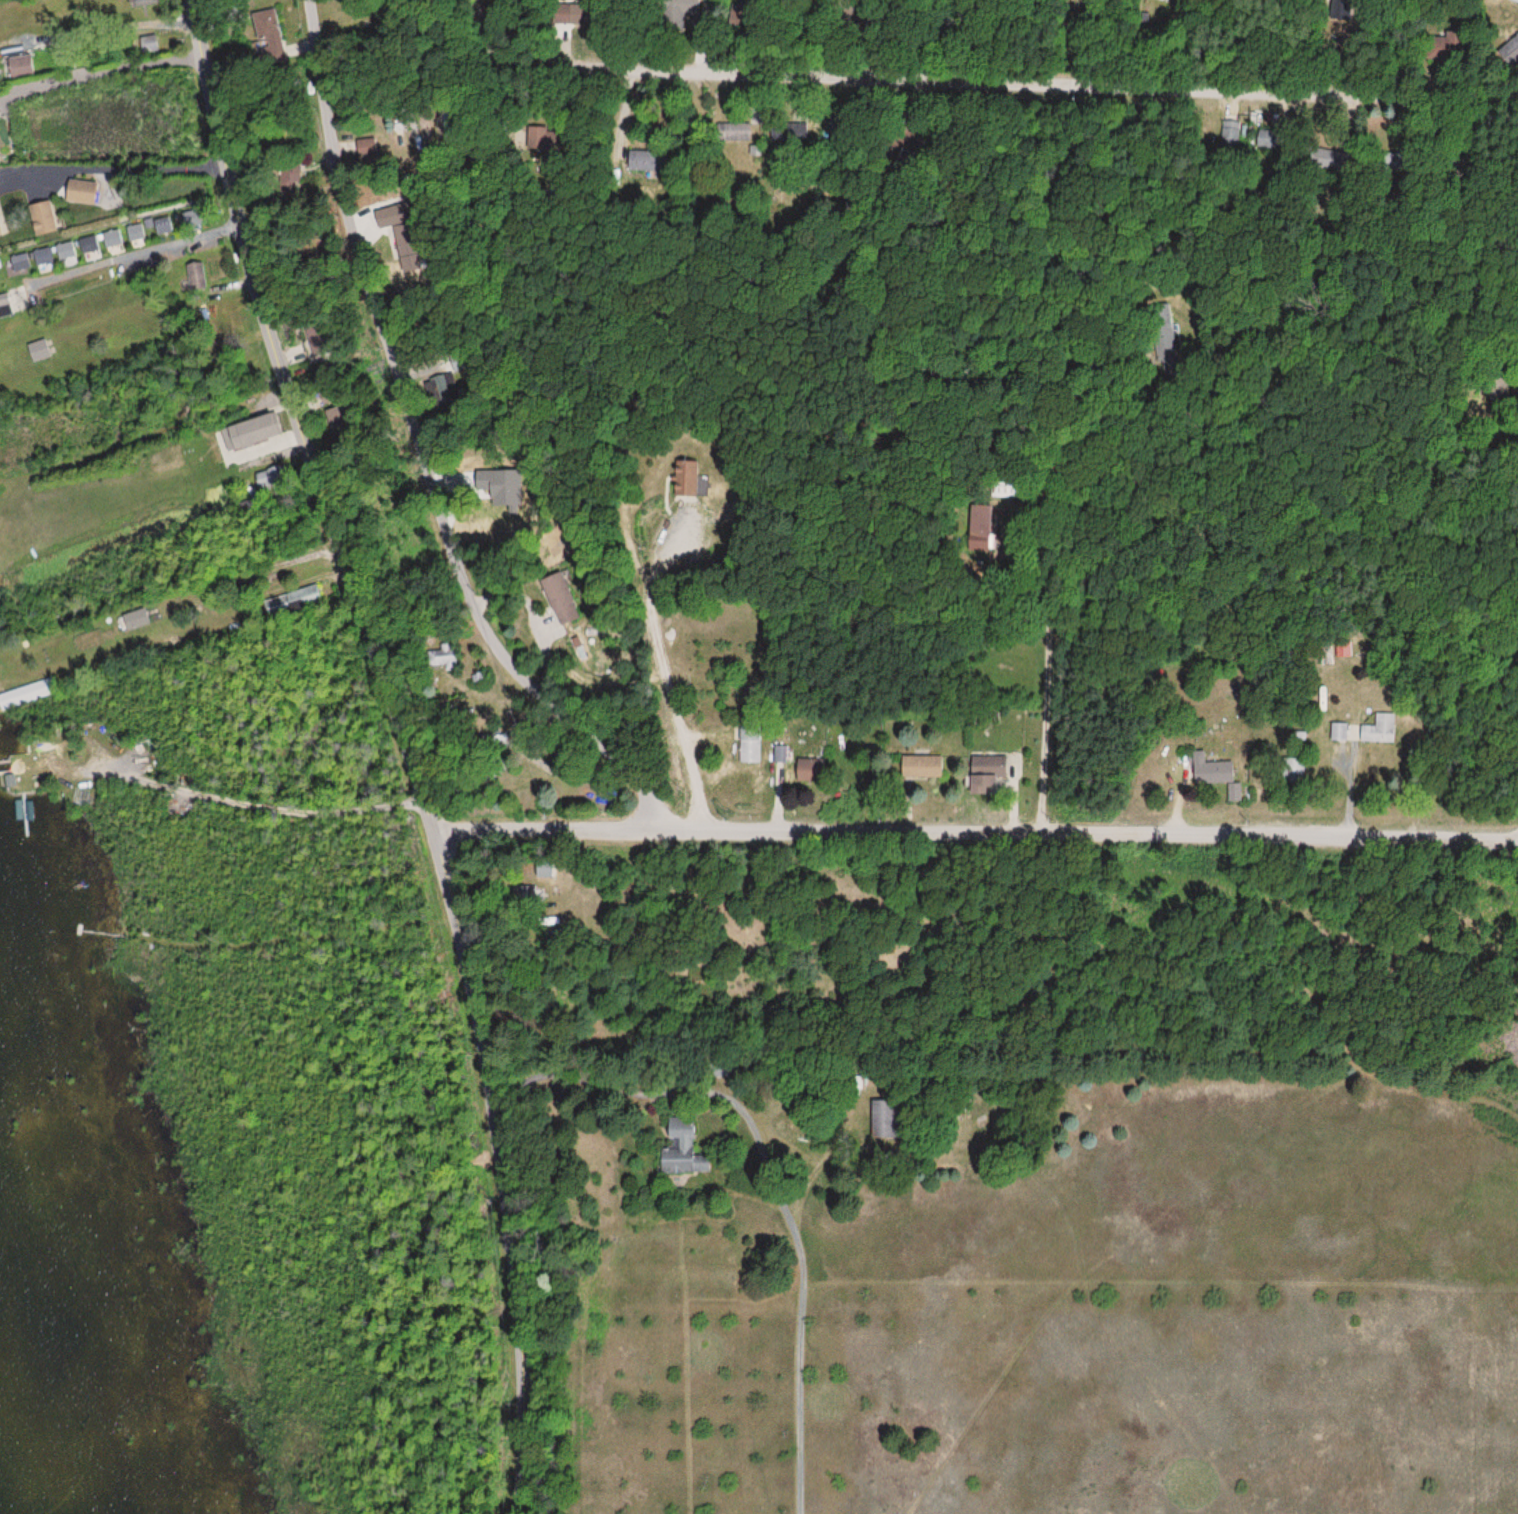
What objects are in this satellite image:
building: (1513, 1)
building: (142, 2)
building: (679, 13)
building: (572, 14)
road: (21, 17)
road: (505, 34)
building: (268, 37)
building: (148, 44)
building: (1509, 51)
building: (19, 66)
road: (1017, 81)
building: (734, 131)
road: (128, 143)
building: (1329, 158)
building: (81, 192)
building: (41, 217)
building: (162, 225)
building: (136, 232)
building: (51, 252)
road: (158, 257)
road: (223, 273)
building: (196, 275)
road: (1314, 280)
road: (218, 340)
building: (39, 349)
road: (233, 352)
road: (426, 442)
building: (684, 477)
road: (685, 554)
road: (201, 584)
building: (559, 598)
building: (285, 603)
building: (135, 620)
building: (442, 656)
building: (29, 693)
road: (1161, 699)
building: (1376, 727)
building: (1338, 731)
road: (684, 732)
building: (749, 743)
road: (408, 747)
building: (921, 766)
building: (807, 769)
building: (1209, 769)
building: (1291, 769)
building: (988, 772)
road: (982, 832)
building: (882, 1116)
building: (682, 1150)
road: (784, 1175)

